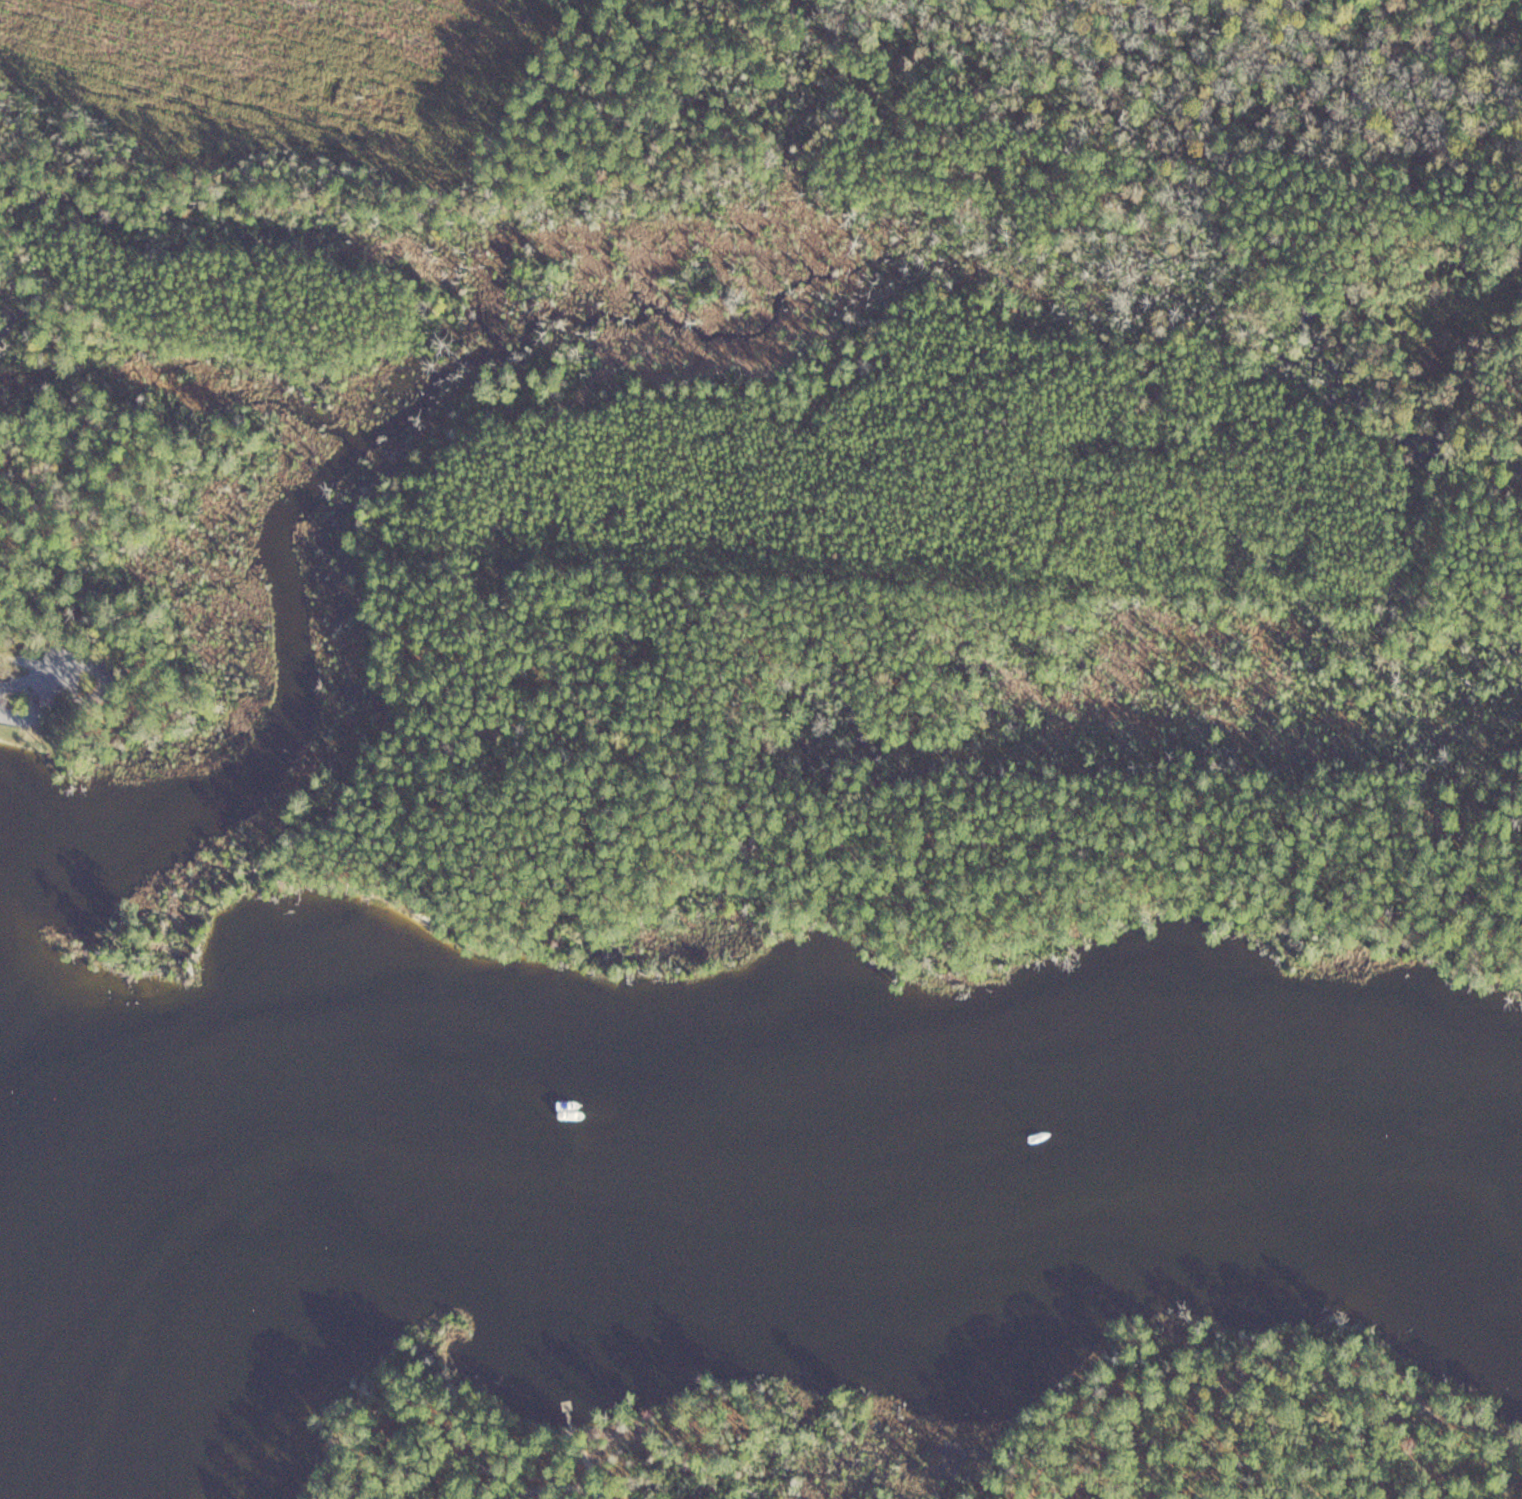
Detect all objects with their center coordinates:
road: (57, 697)
road: (457, 1401)
road: (570, 1415)
road: (575, 1436)
road: (555, 1483)

